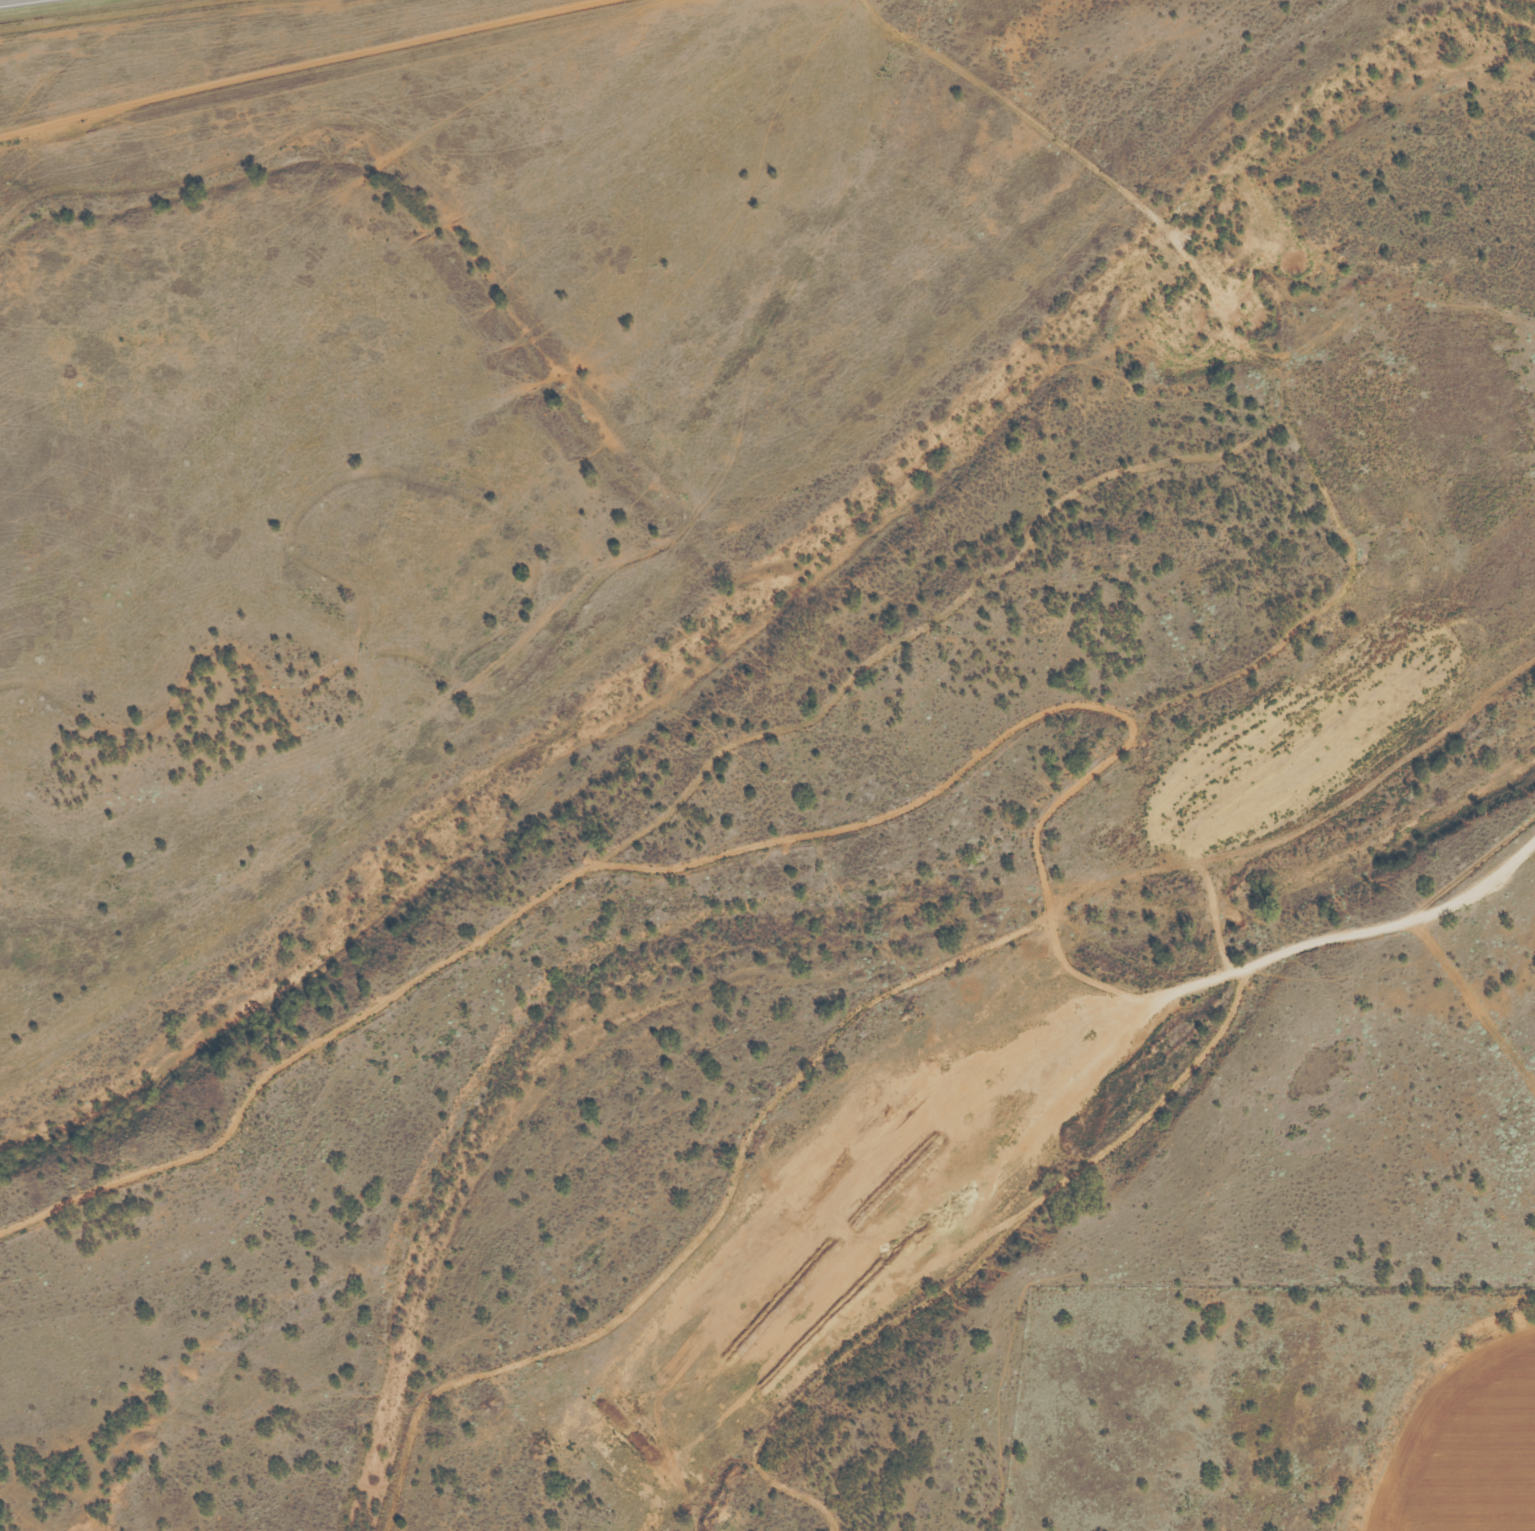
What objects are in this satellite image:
river: (1519, 6)
road: (304, 66)
river: (543, 362)
road: (1301, 443)
road: (929, 623)
road: (547, 893)
river: (769, 931)
road: (1347, 935)
road: (740, 1160)
road: (974, 1268)

